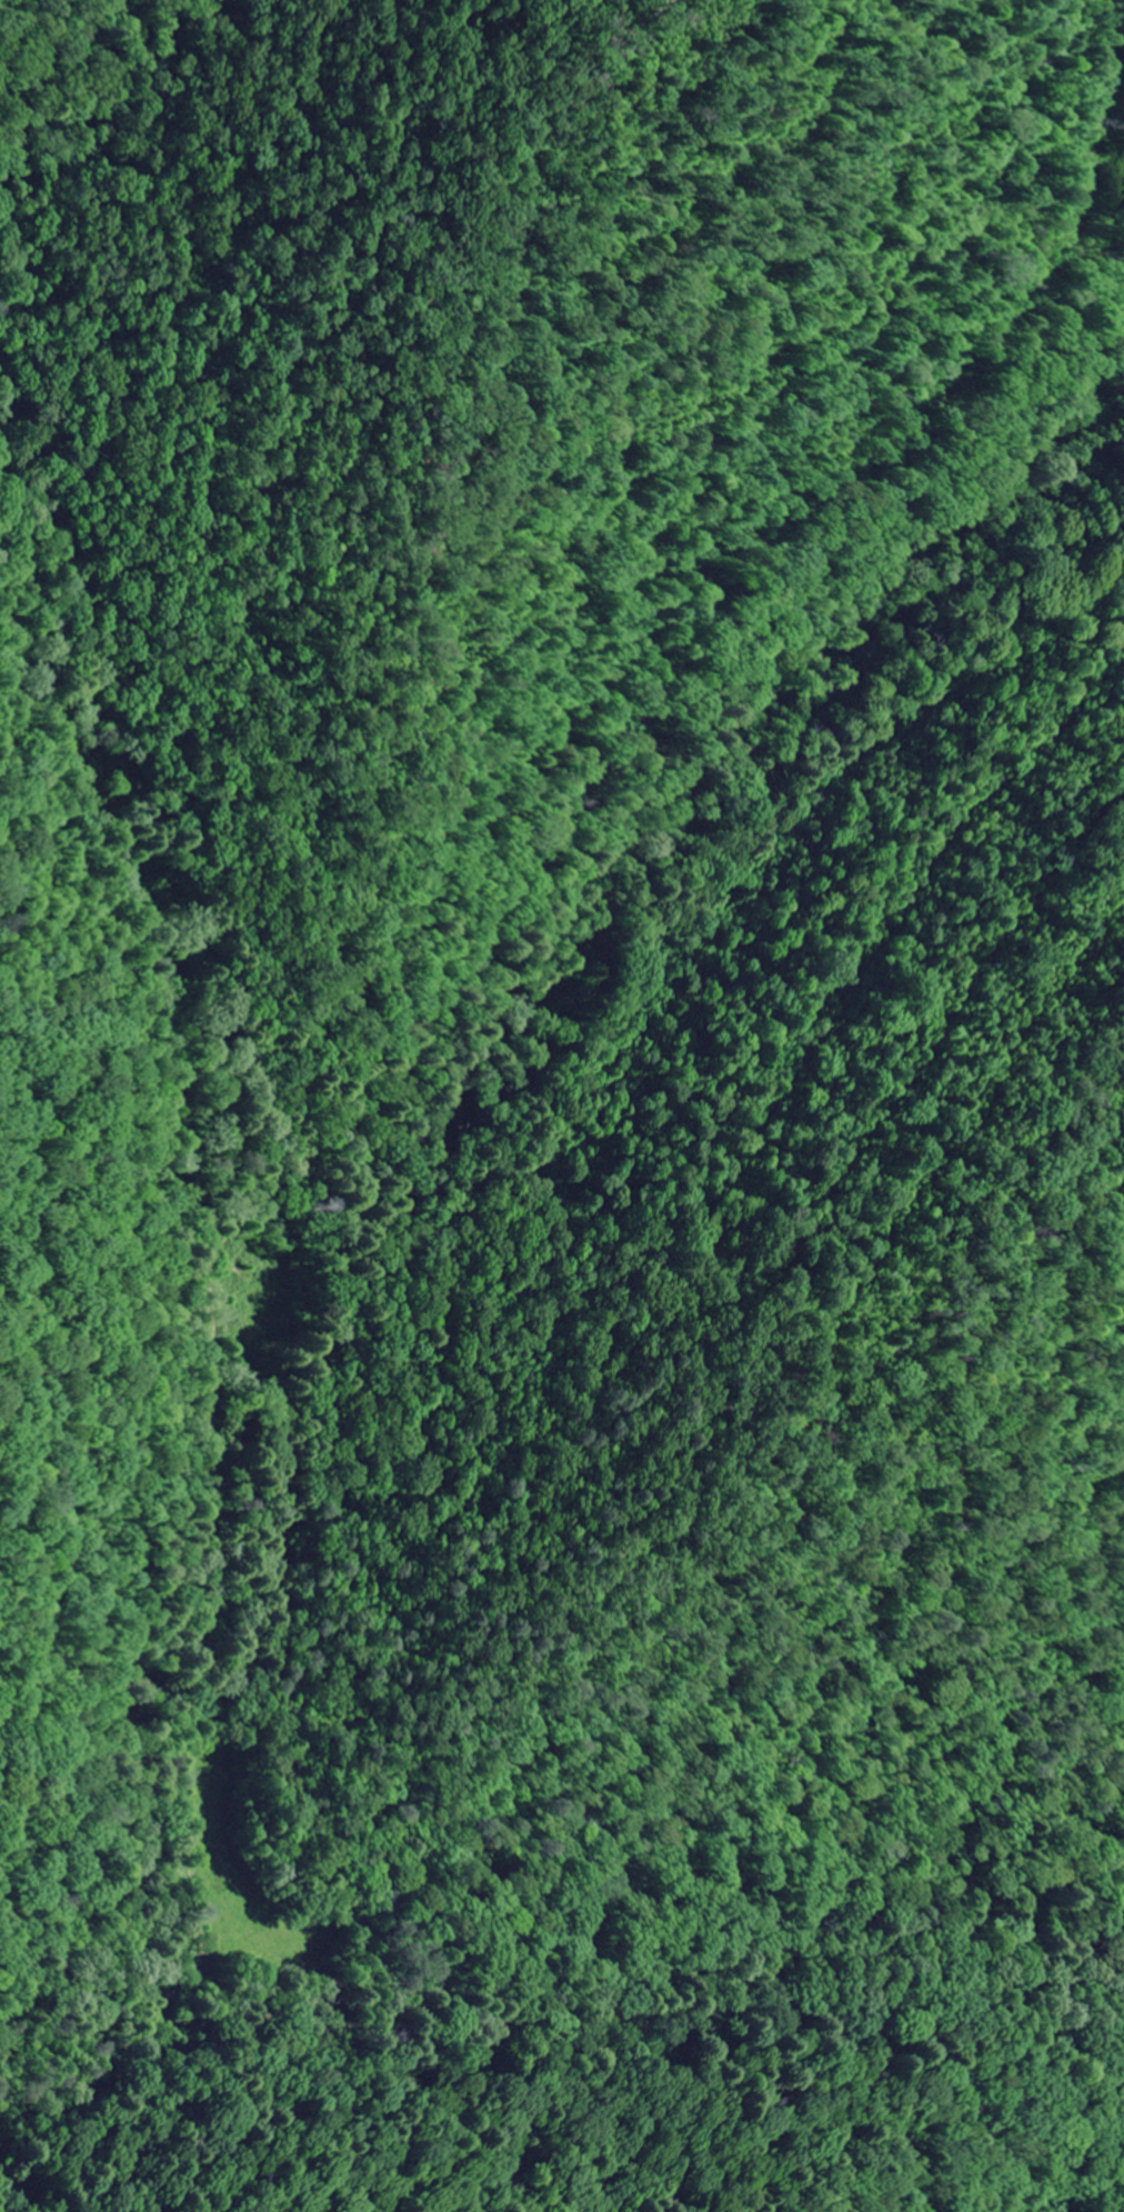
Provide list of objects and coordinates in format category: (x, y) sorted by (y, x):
road: (204, 1348)
road: (20, 2018)
road: (612, 2024)
road: (70, 2029)

